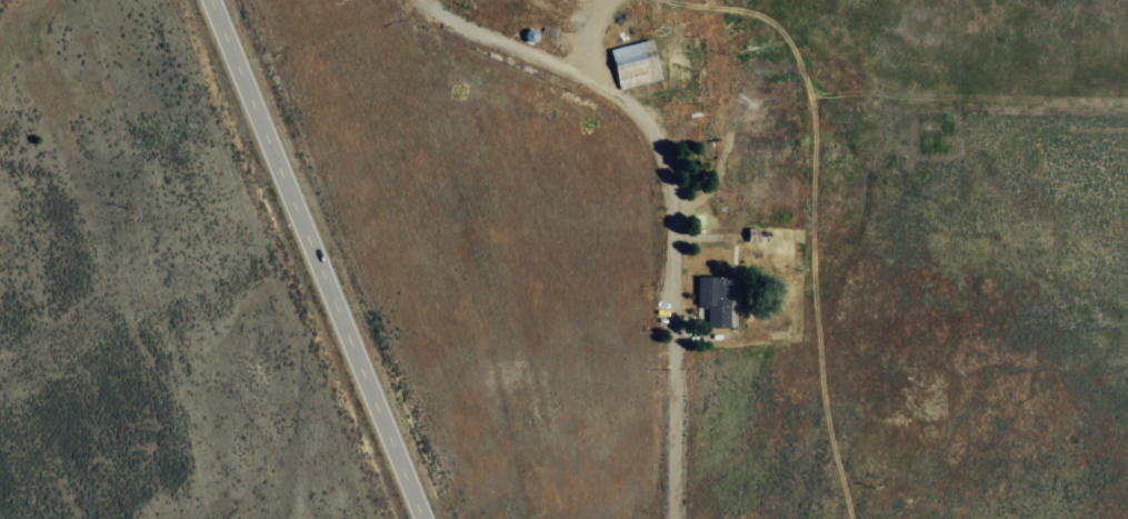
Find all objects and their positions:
building: (632, 63)
road: (668, 191)
road: (299, 259)
crop: (926, 273)
building: (716, 302)
crop: (152, 336)

